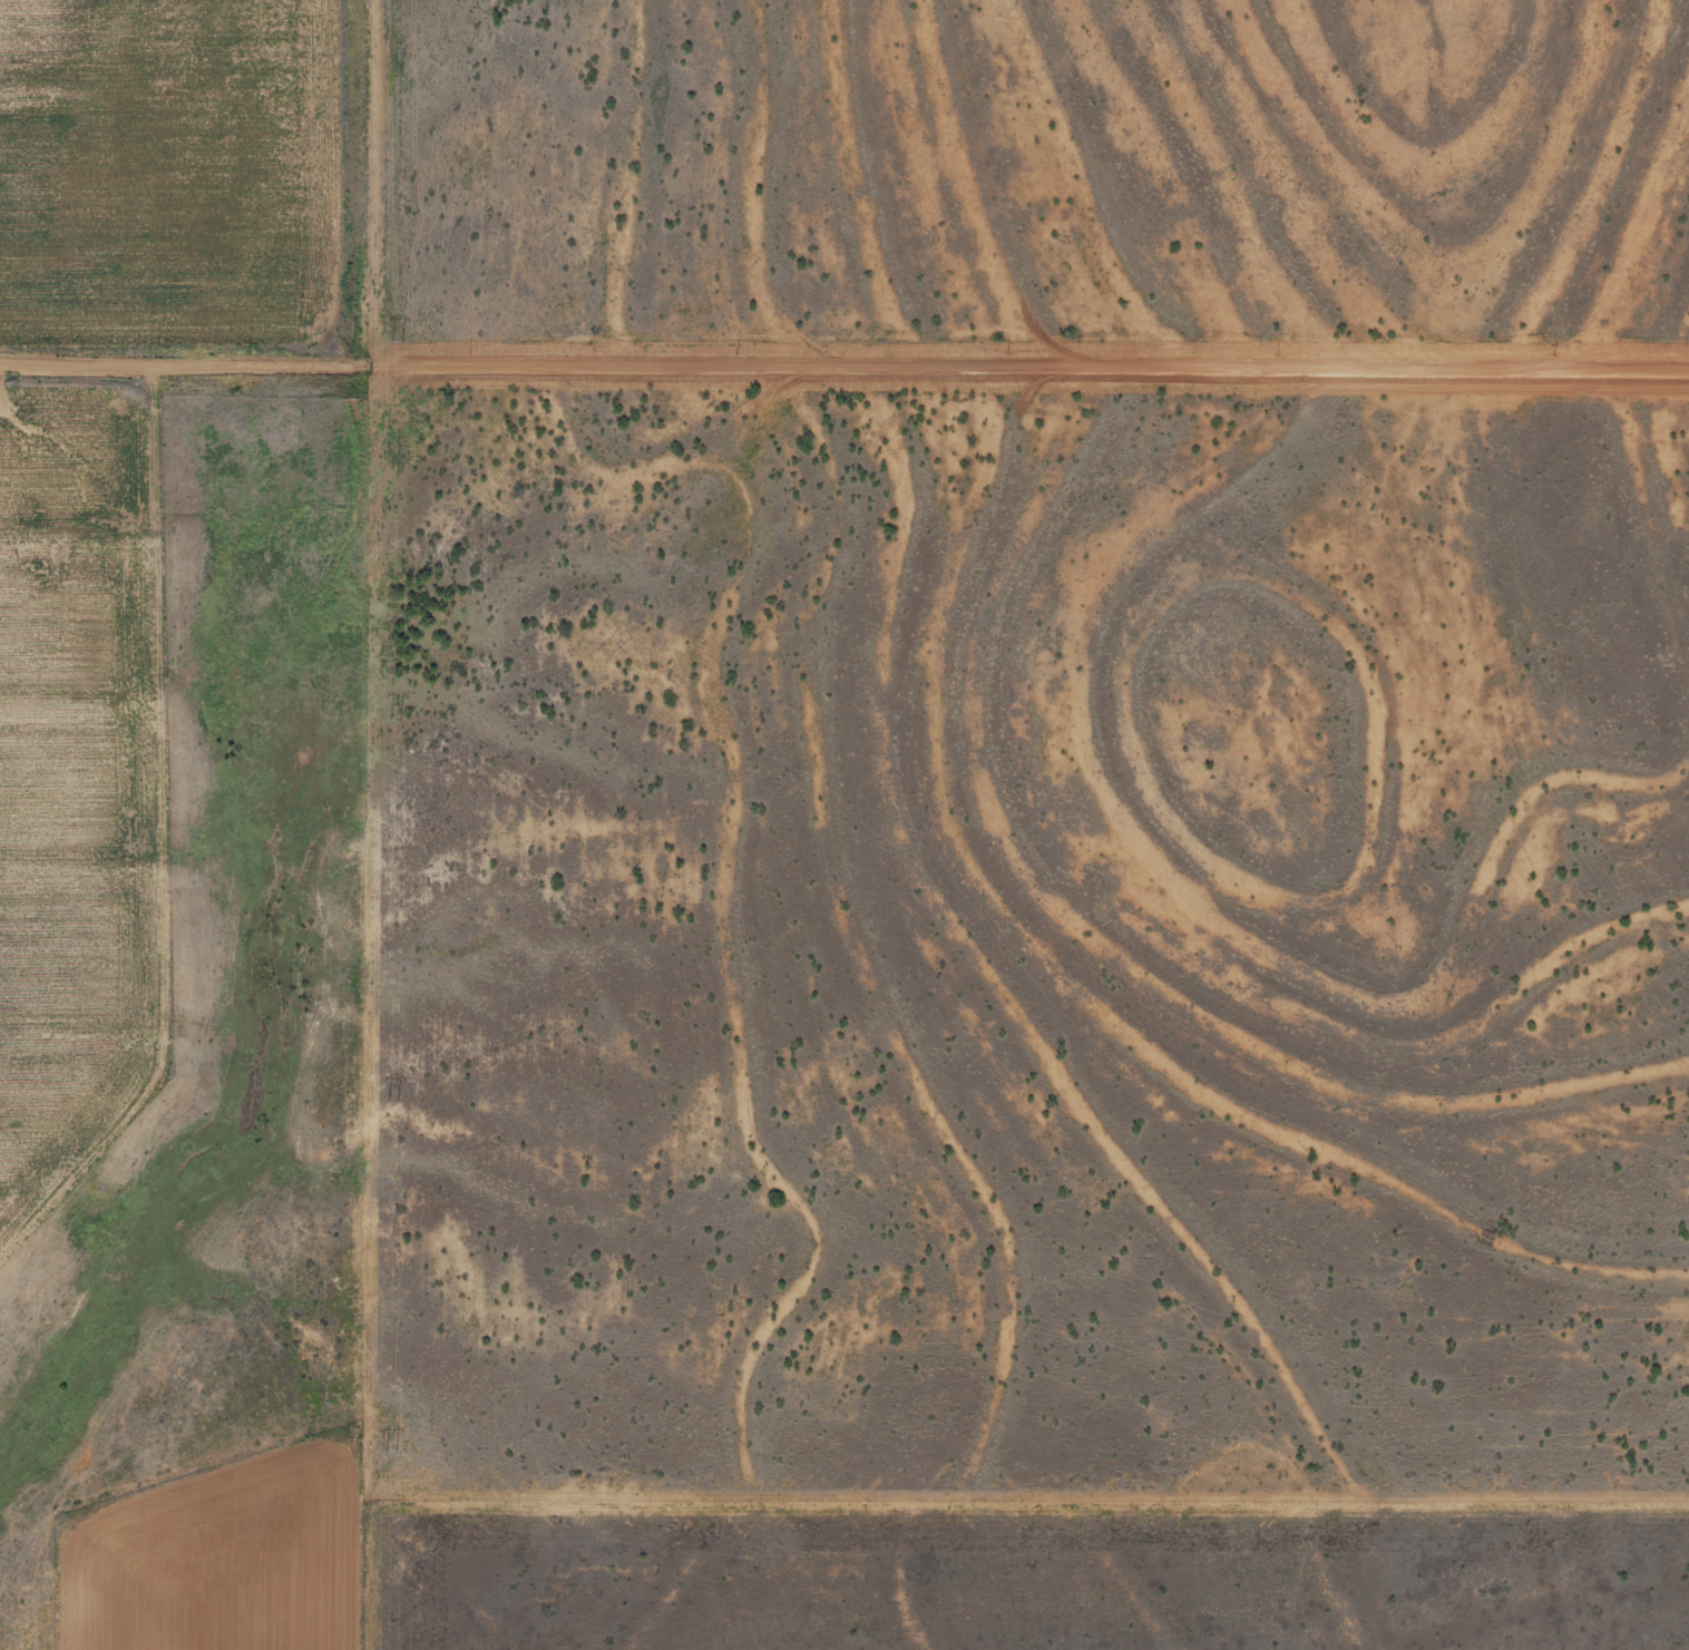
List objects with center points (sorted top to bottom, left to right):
power tower: (396, 342)
road: (843, 364)
power tower: (394, 722)
power tower: (393, 1103)
power tower: (390, 1454)

